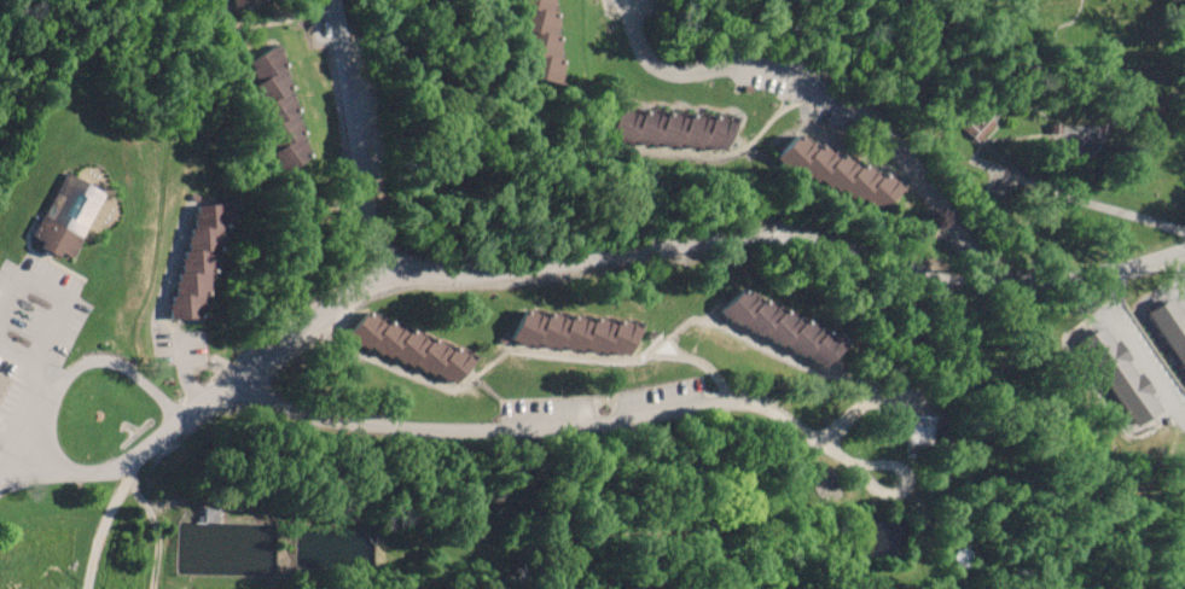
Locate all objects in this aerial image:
building: (236, 2)
building: (538, 42)
road: (829, 99)
building: (277, 107)
building: (976, 132)
building: (667, 135)
road: (356, 136)
building: (836, 175)
road: (1076, 205)
building: (66, 217)
road: (662, 247)
building: (198, 258)
road: (58, 296)
building: (782, 327)
parking lot: (33, 328)
building: (573, 333)
building: (408, 351)
road: (17, 357)
road: (181, 374)
building: (2, 381)
road: (37, 392)
road: (50, 416)
road: (620, 418)
building: (918, 430)
road: (23, 435)
road: (256, 503)
road: (56, 518)
road: (103, 519)
road: (153, 526)
storage tank: (225, 547)
storage tank: (332, 548)
building: (960, 556)

